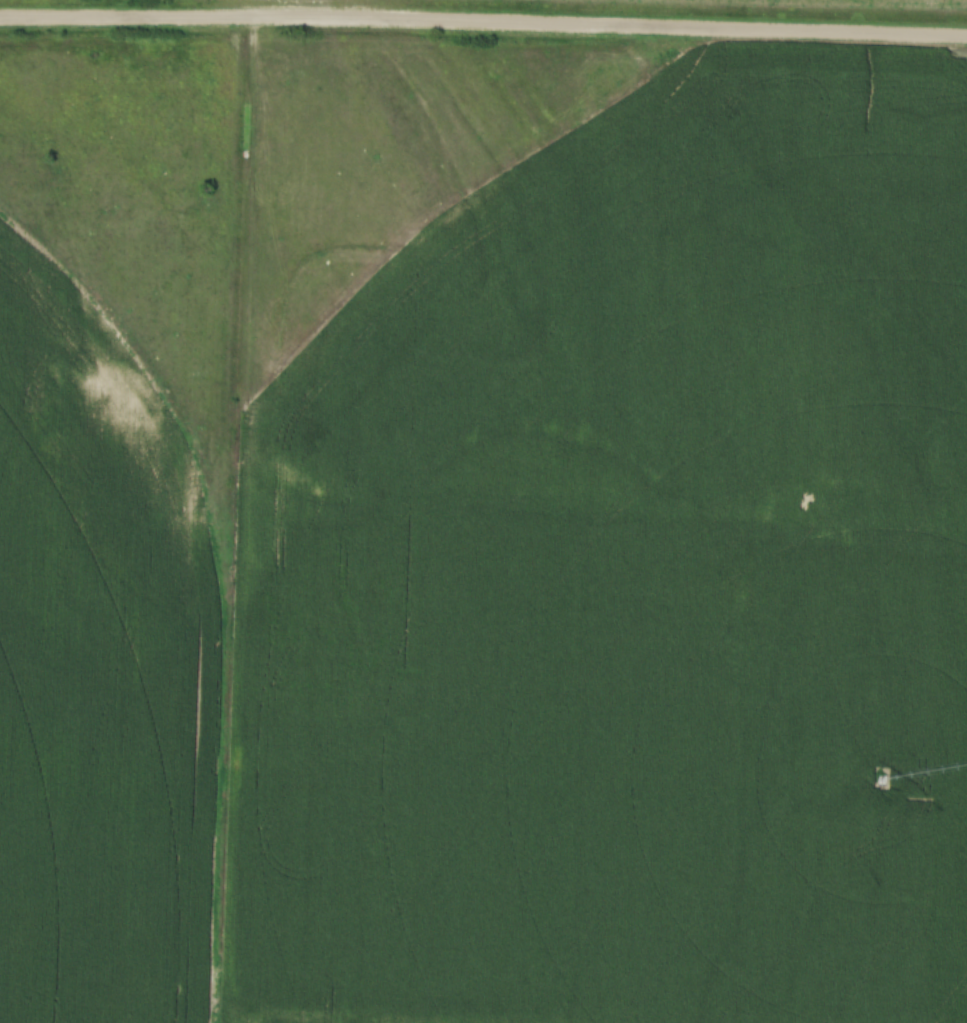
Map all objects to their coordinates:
road: (483, 25)

